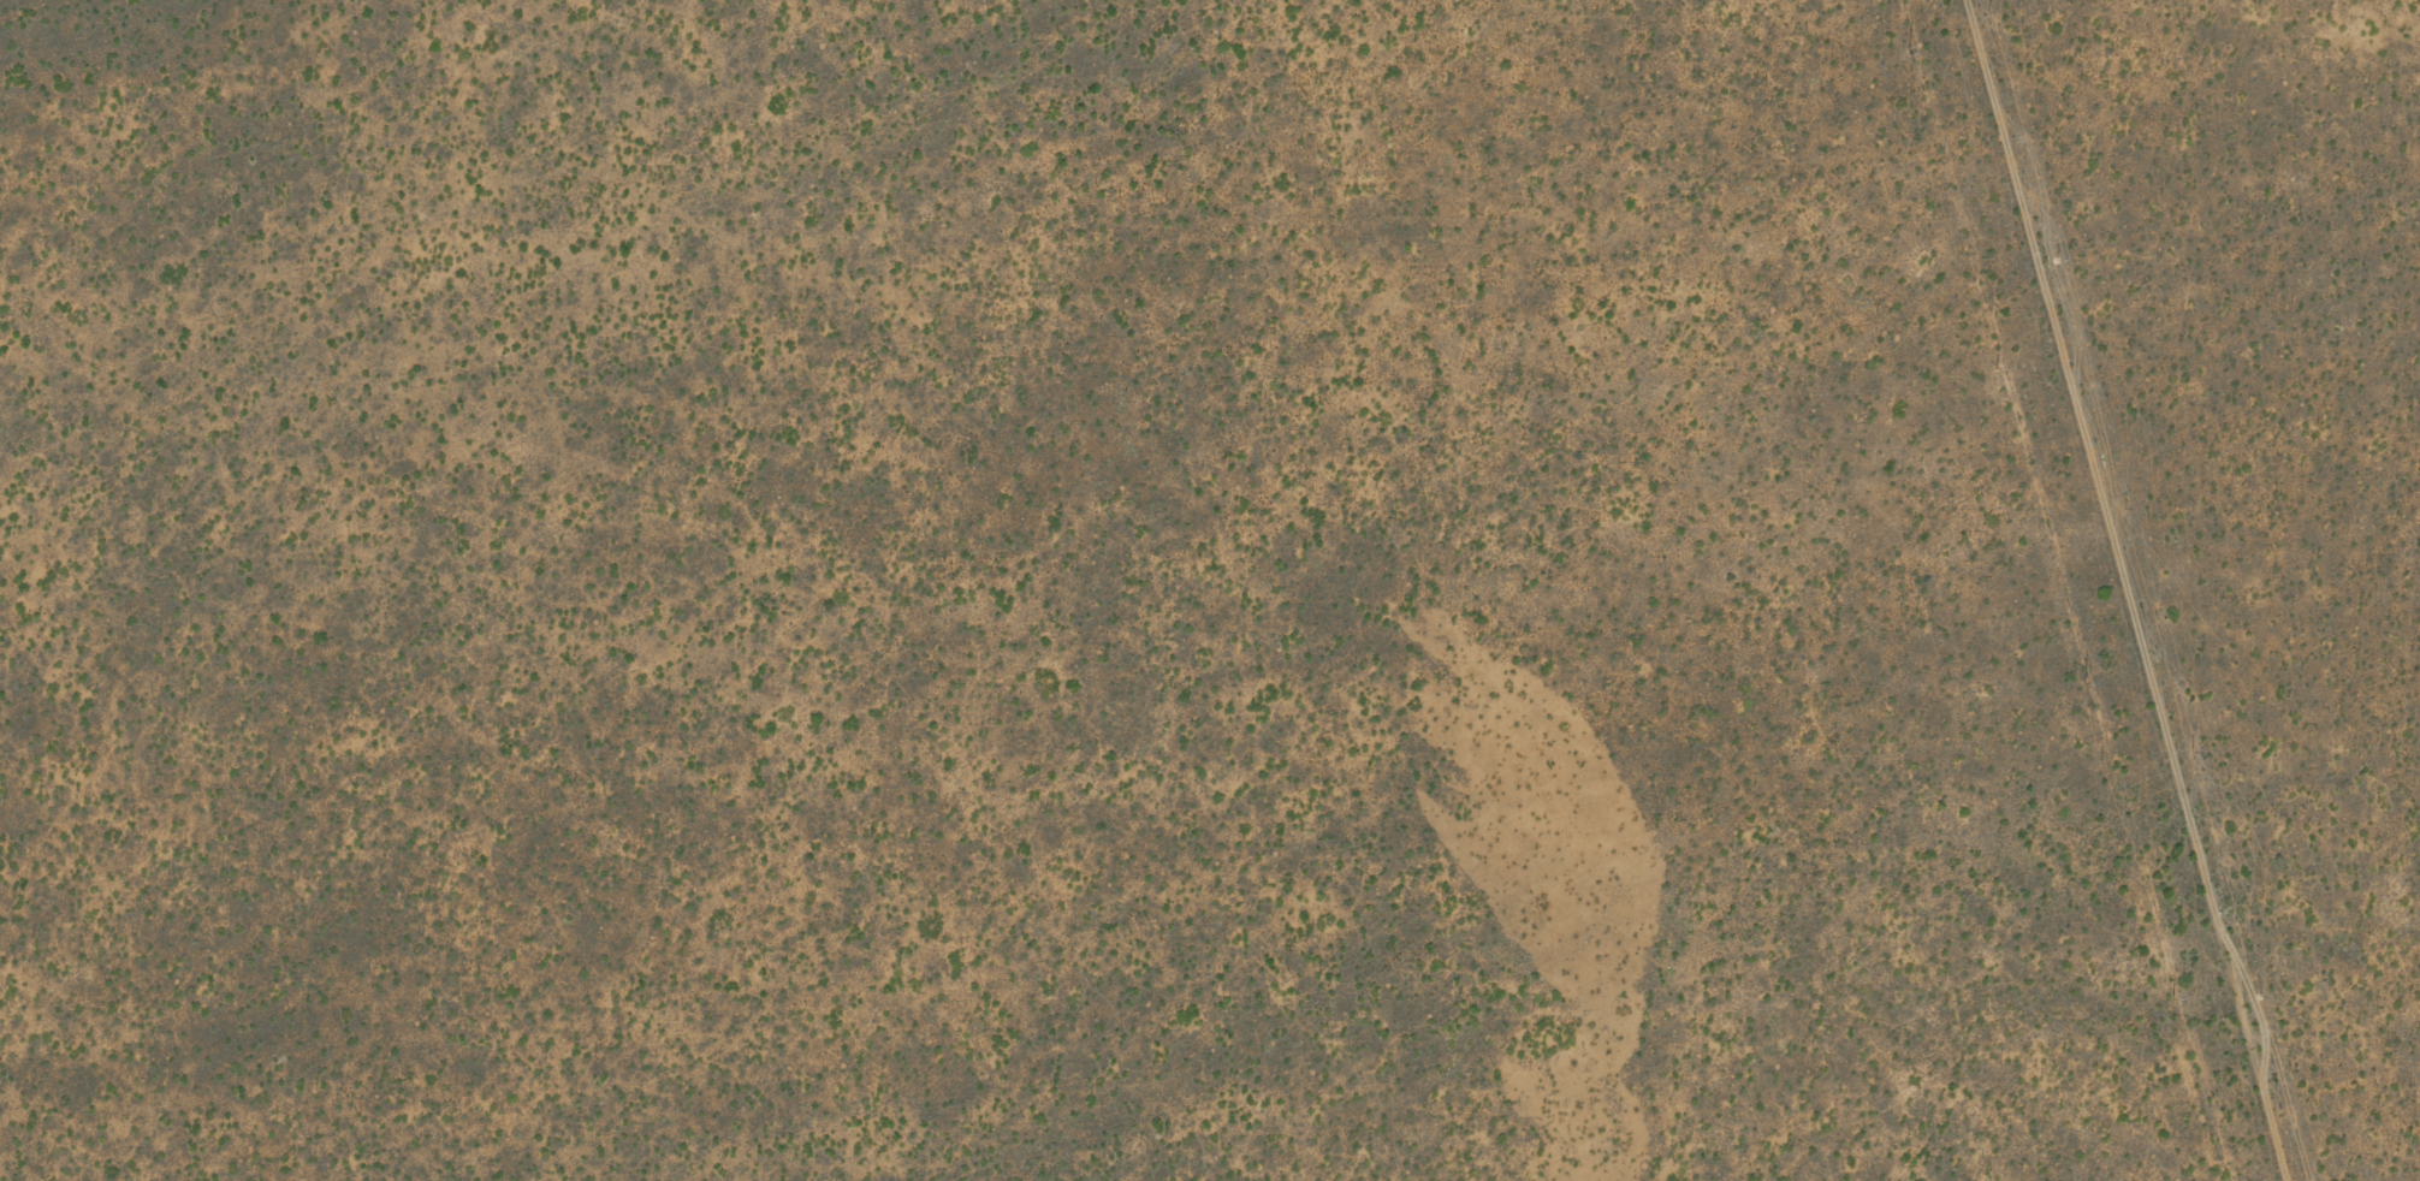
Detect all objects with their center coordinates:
power tower: (1910, 53)
power tower: (1993, 369)
power tower: (2081, 684)
power tower: (2167, 1001)

